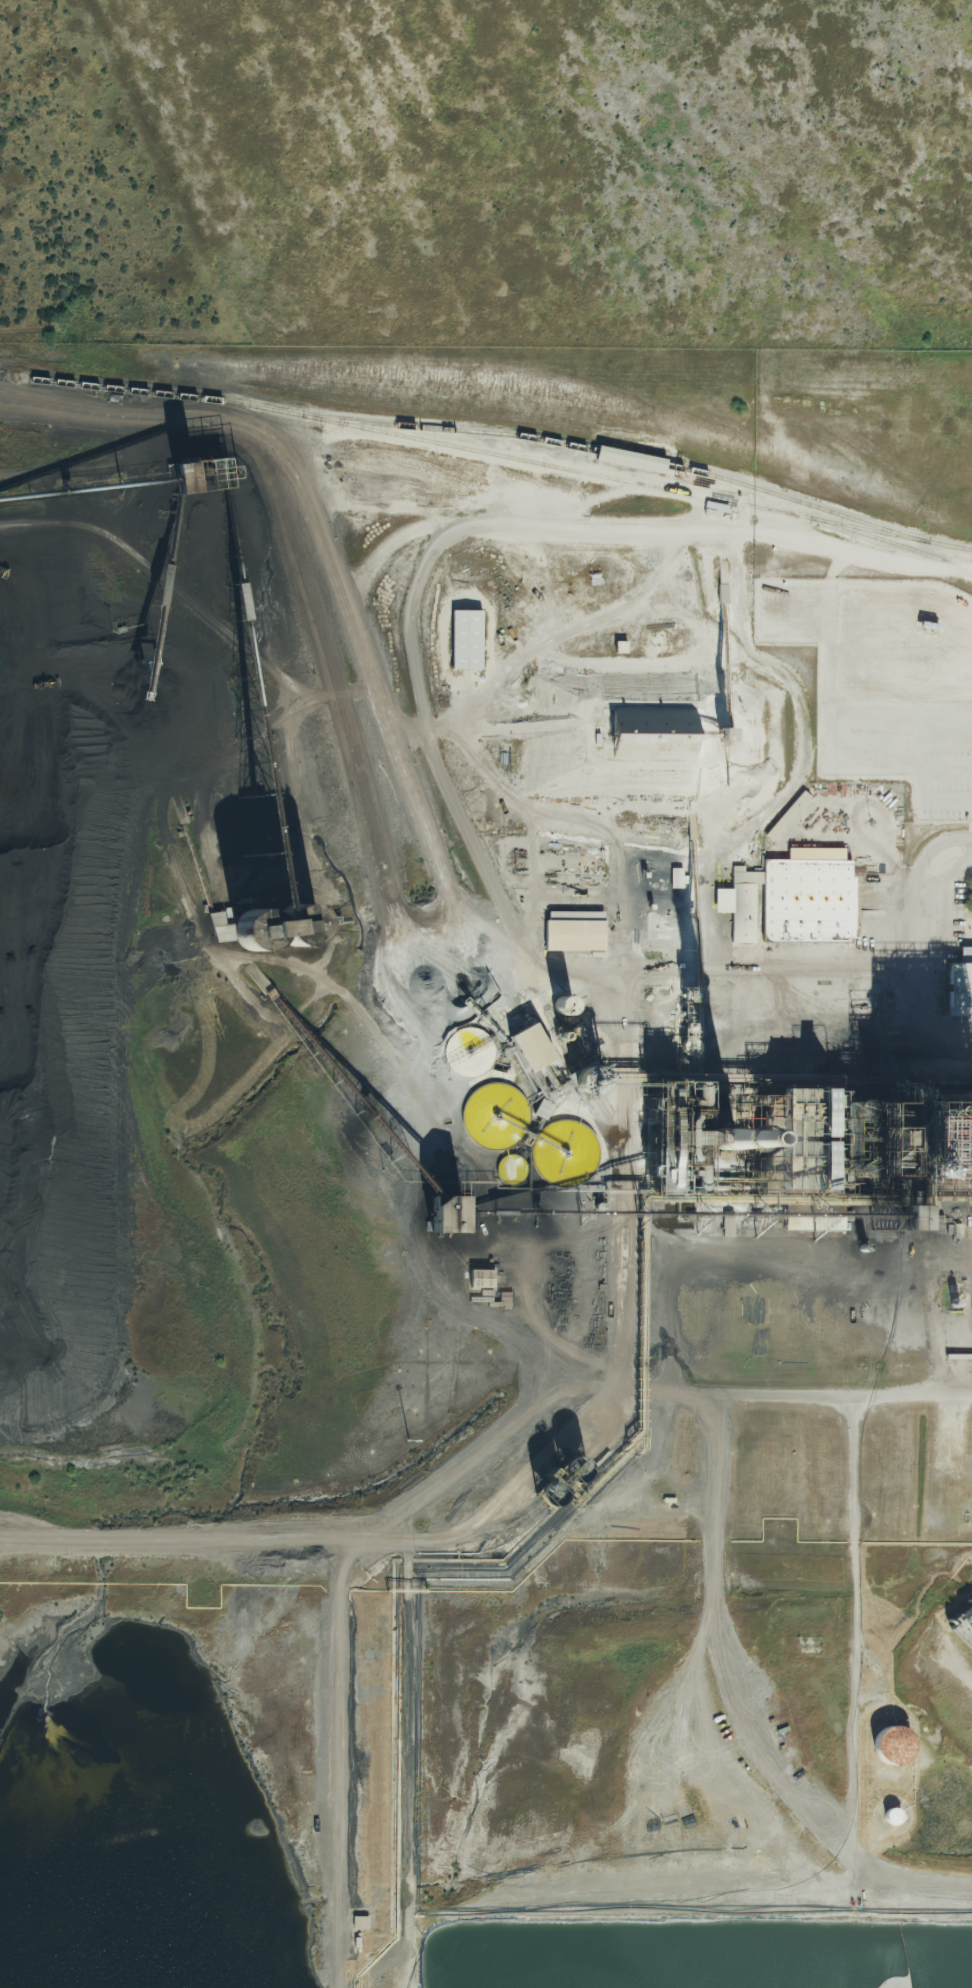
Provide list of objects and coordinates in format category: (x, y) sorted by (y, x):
railway: (506, 457)
building: (628, 462)
railway: (645, 464)
railway: (877, 534)
road: (898, 691)
building: (647, 735)
building: (783, 821)
building: (806, 899)
building: (573, 929)
road: (913, 933)
building: (960, 980)
building: (526, 1049)
railway: (932, 1076)
building: (808, 1131)
chimney: (726, 1139)
building: (913, 1164)
power plant: (485, 1166)
building: (441, 1215)
road: (670, 1326)
road: (344, 1599)
road: (858, 1626)
building: (962, 1630)
road: (737, 1709)
road: (908, 1906)

